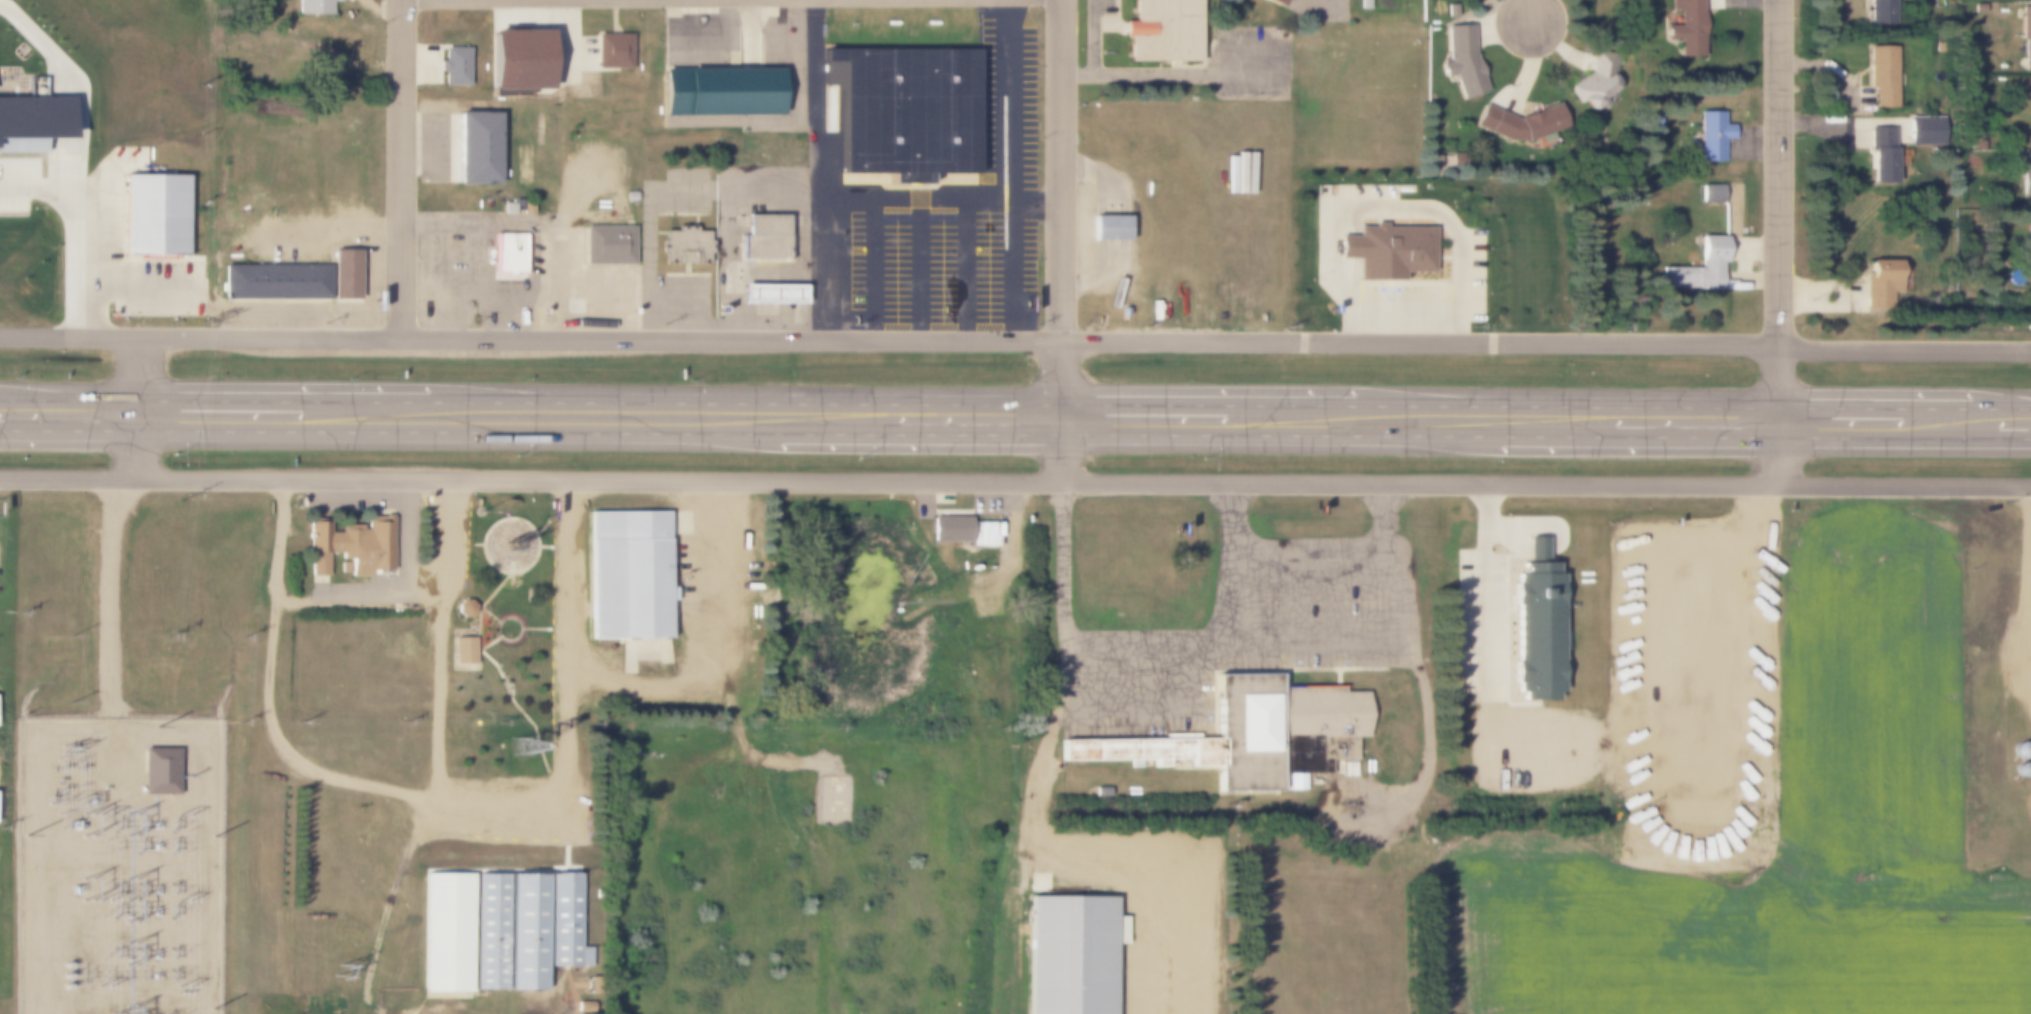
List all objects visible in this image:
building: (1269, 3)
building: (1363, 4)
building: (313, 6)
building: (1978, 8)
road: (1529, 11)
building: (1885, 12)
building: (1686, 28)
building: (1161, 31)
building: (2026, 35)
building: (612, 50)
building: (517, 60)
building: (1460, 62)
parking lot: (1251, 64)
building: (453, 65)
building: (1883, 76)
building: (1596, 81)
building: (720, 91)
building: (906, 110)
building: (33, 121)
building: (1519, 121)
building: (1925, 130)
building: (1714, 136)
building: (1980, 144)
building: (476, 148)
building: (1881, 155)
road: (400, 169)
road: (1061, 169)
building: (2025, 177)
building: (1710, 192)
building: (153, 206)
building: (526, 206)
building: (507, 208)
road: (1778, 217)
building: (1109, 228)
building: (763, 237)
building: (608, 244)
building: (683, 245)
building: (1386, 250)
building: (508, 256)
building: (345, 267)
building: (1696, 269)
building: (275, 276)
building: (1883, 282)
building: (771, 294)
road: (1009, 339)
road: (1015, 397)
road: (137, 406)
road: (1064, 410)
road: (1015, 431)
road: (1781, 459)
road: (1015, 481)
building: (964, 530)
building: (351, 545)
building: (626, 575)
road: (2021, 590)
building: (1951, 593)
road: (108, 597)
building: (464, 608)
building: (1534, 624)
building: (463, 649)
road: (1218, 652)
building: (1877, 672)
building: (1983, 683)
building: (1341, 721)
building: (1228, 738)
building: (2019, 750)
silo: (2019, 750)
building: (160, 764)
building: (2018, 771)
silo: (2018, 771)
building: (1295, 782)
power substation: (832, 797)
road: (499, 807)
road: (1045, 849)
power substation: (119, 867)
road: (385, 905)
building: (560, 922)
building: (447, 931)
building: (489, 931)
building: (524, 931)
building: (1074, 955)
building: (580, 1007)

